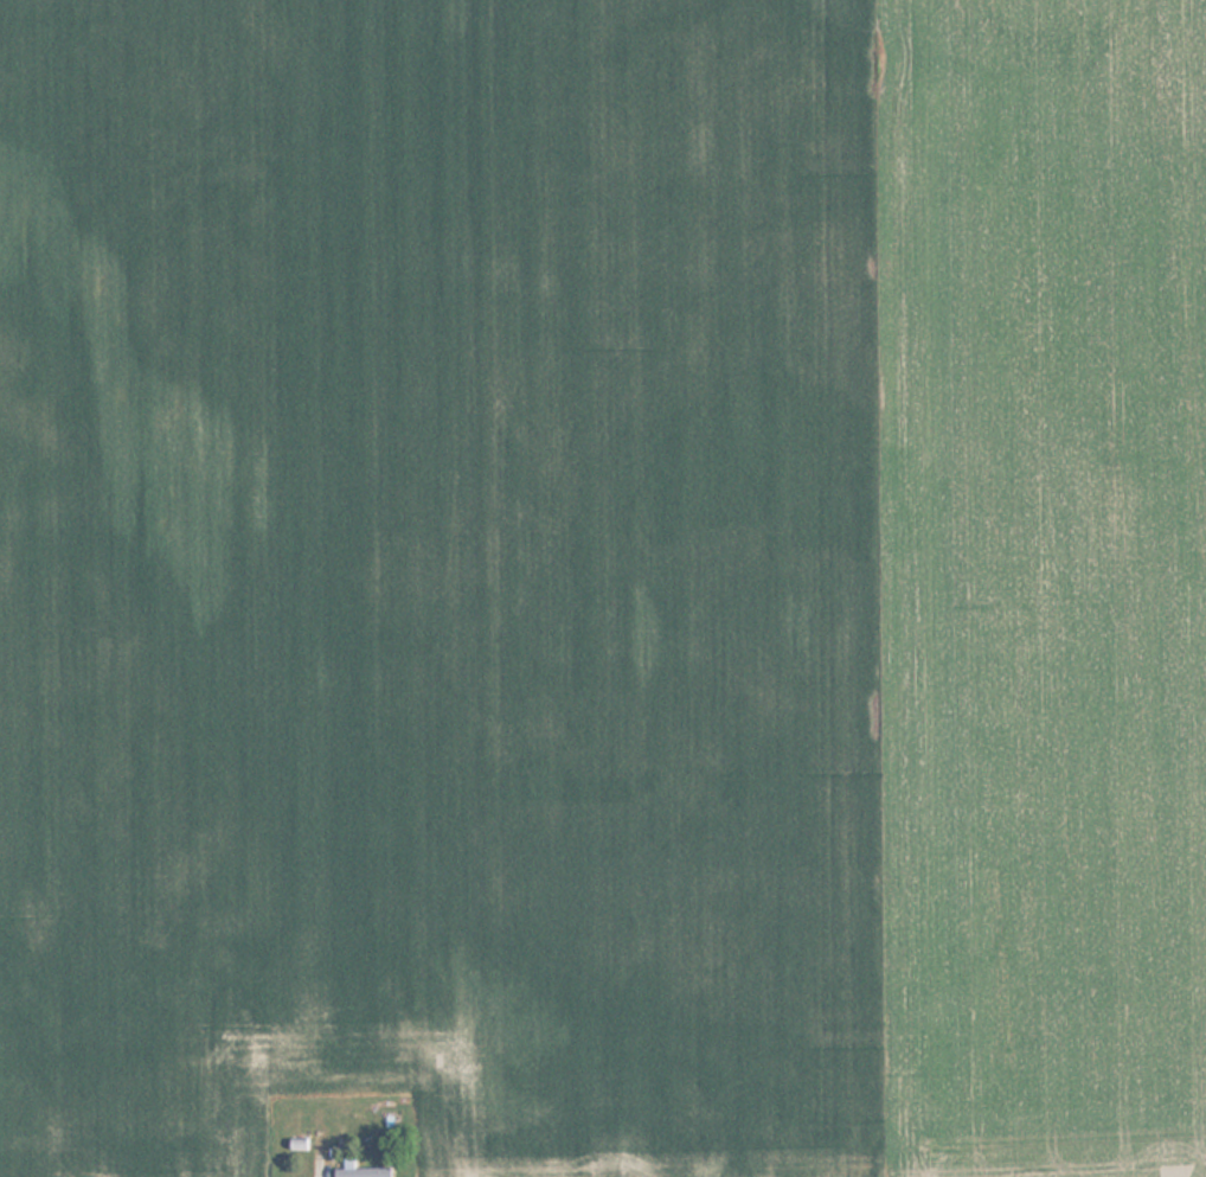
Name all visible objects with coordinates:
building: (295, 1144)
building: (359, 1171)

